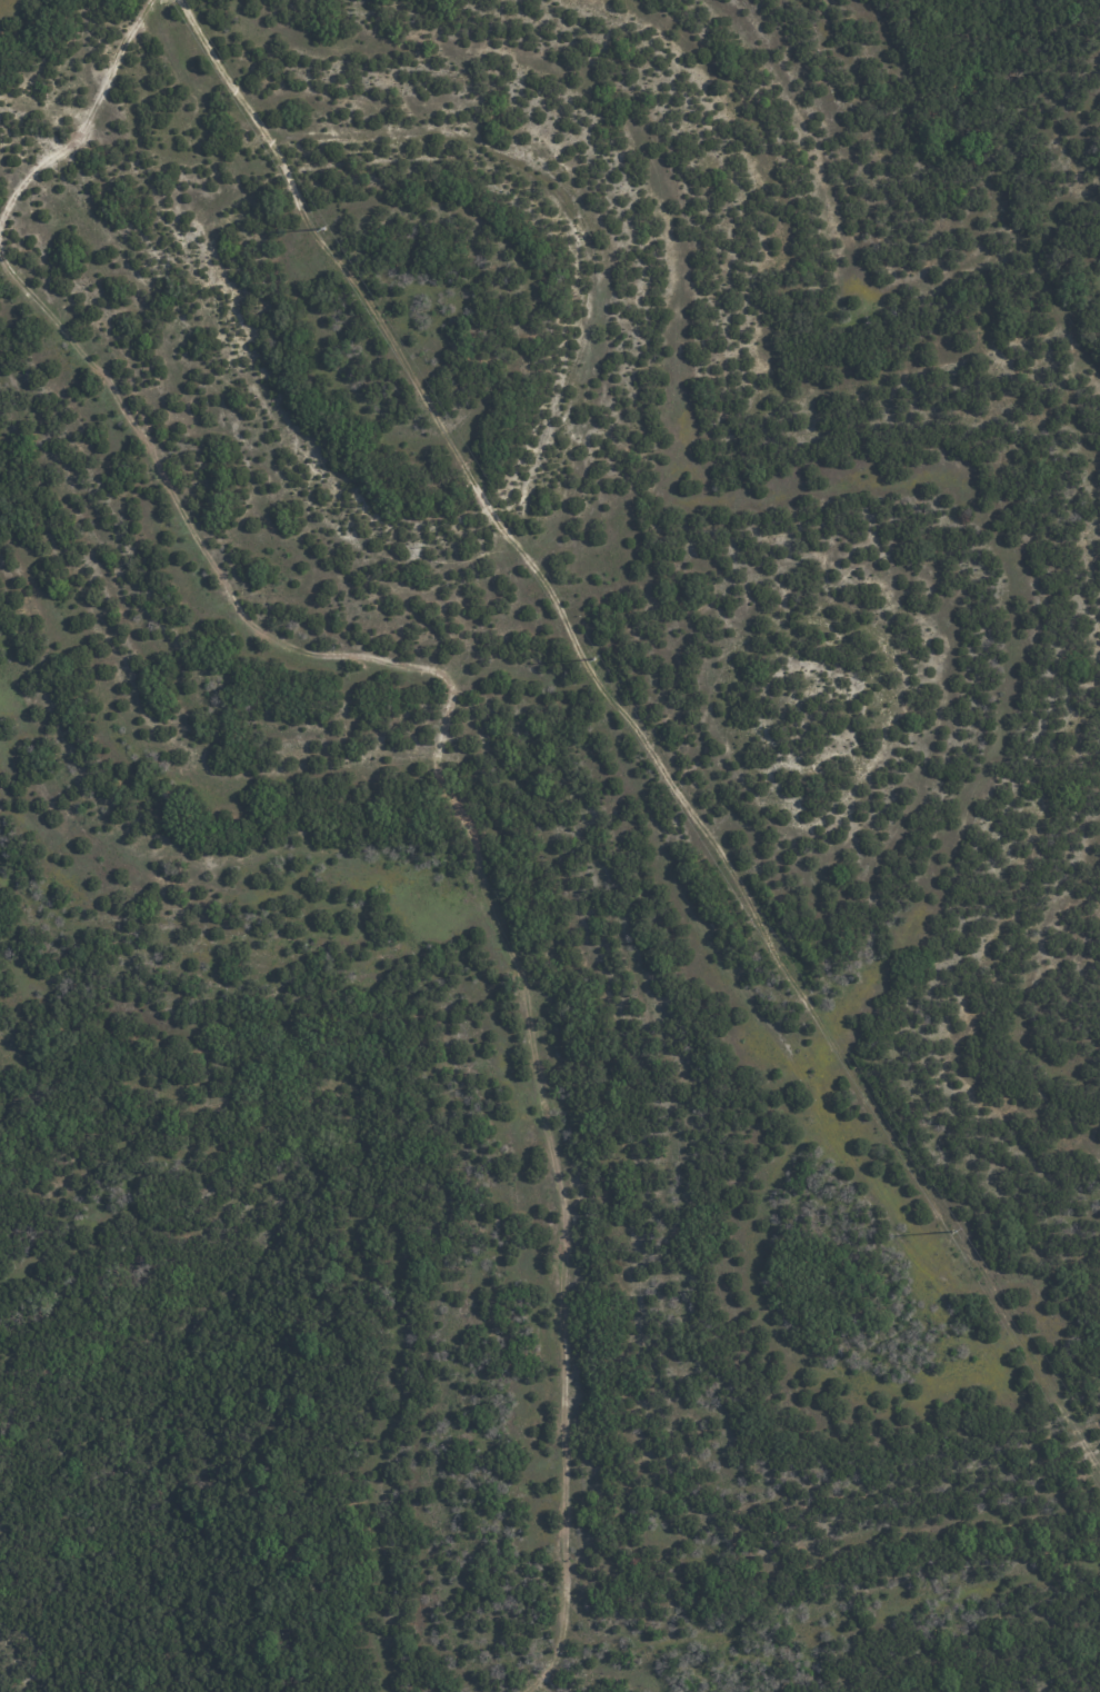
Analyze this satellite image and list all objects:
road: (84, 119)
power tower: (322, 228)
power tower: (591, 658)
road: (472, 860)

